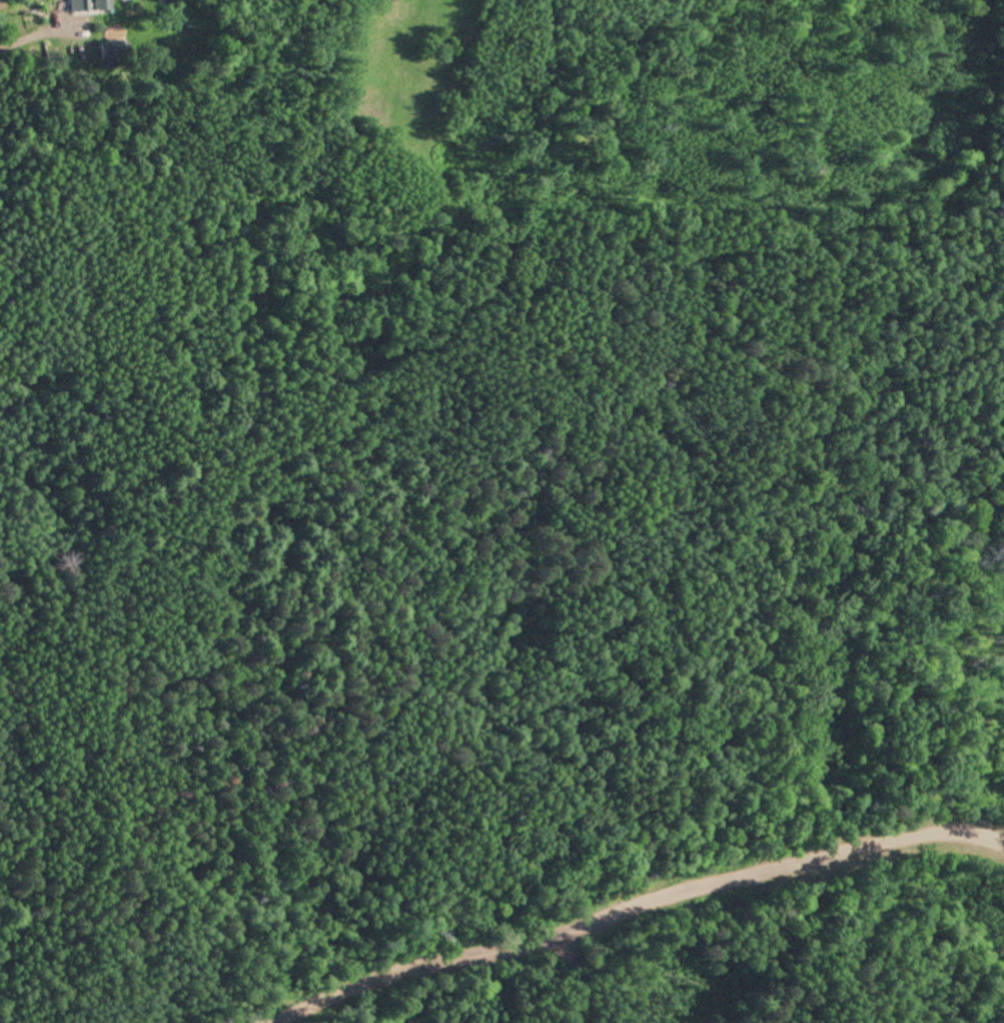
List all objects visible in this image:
building: (106, 5)
building: (115, 54)
road: (636, 903)

